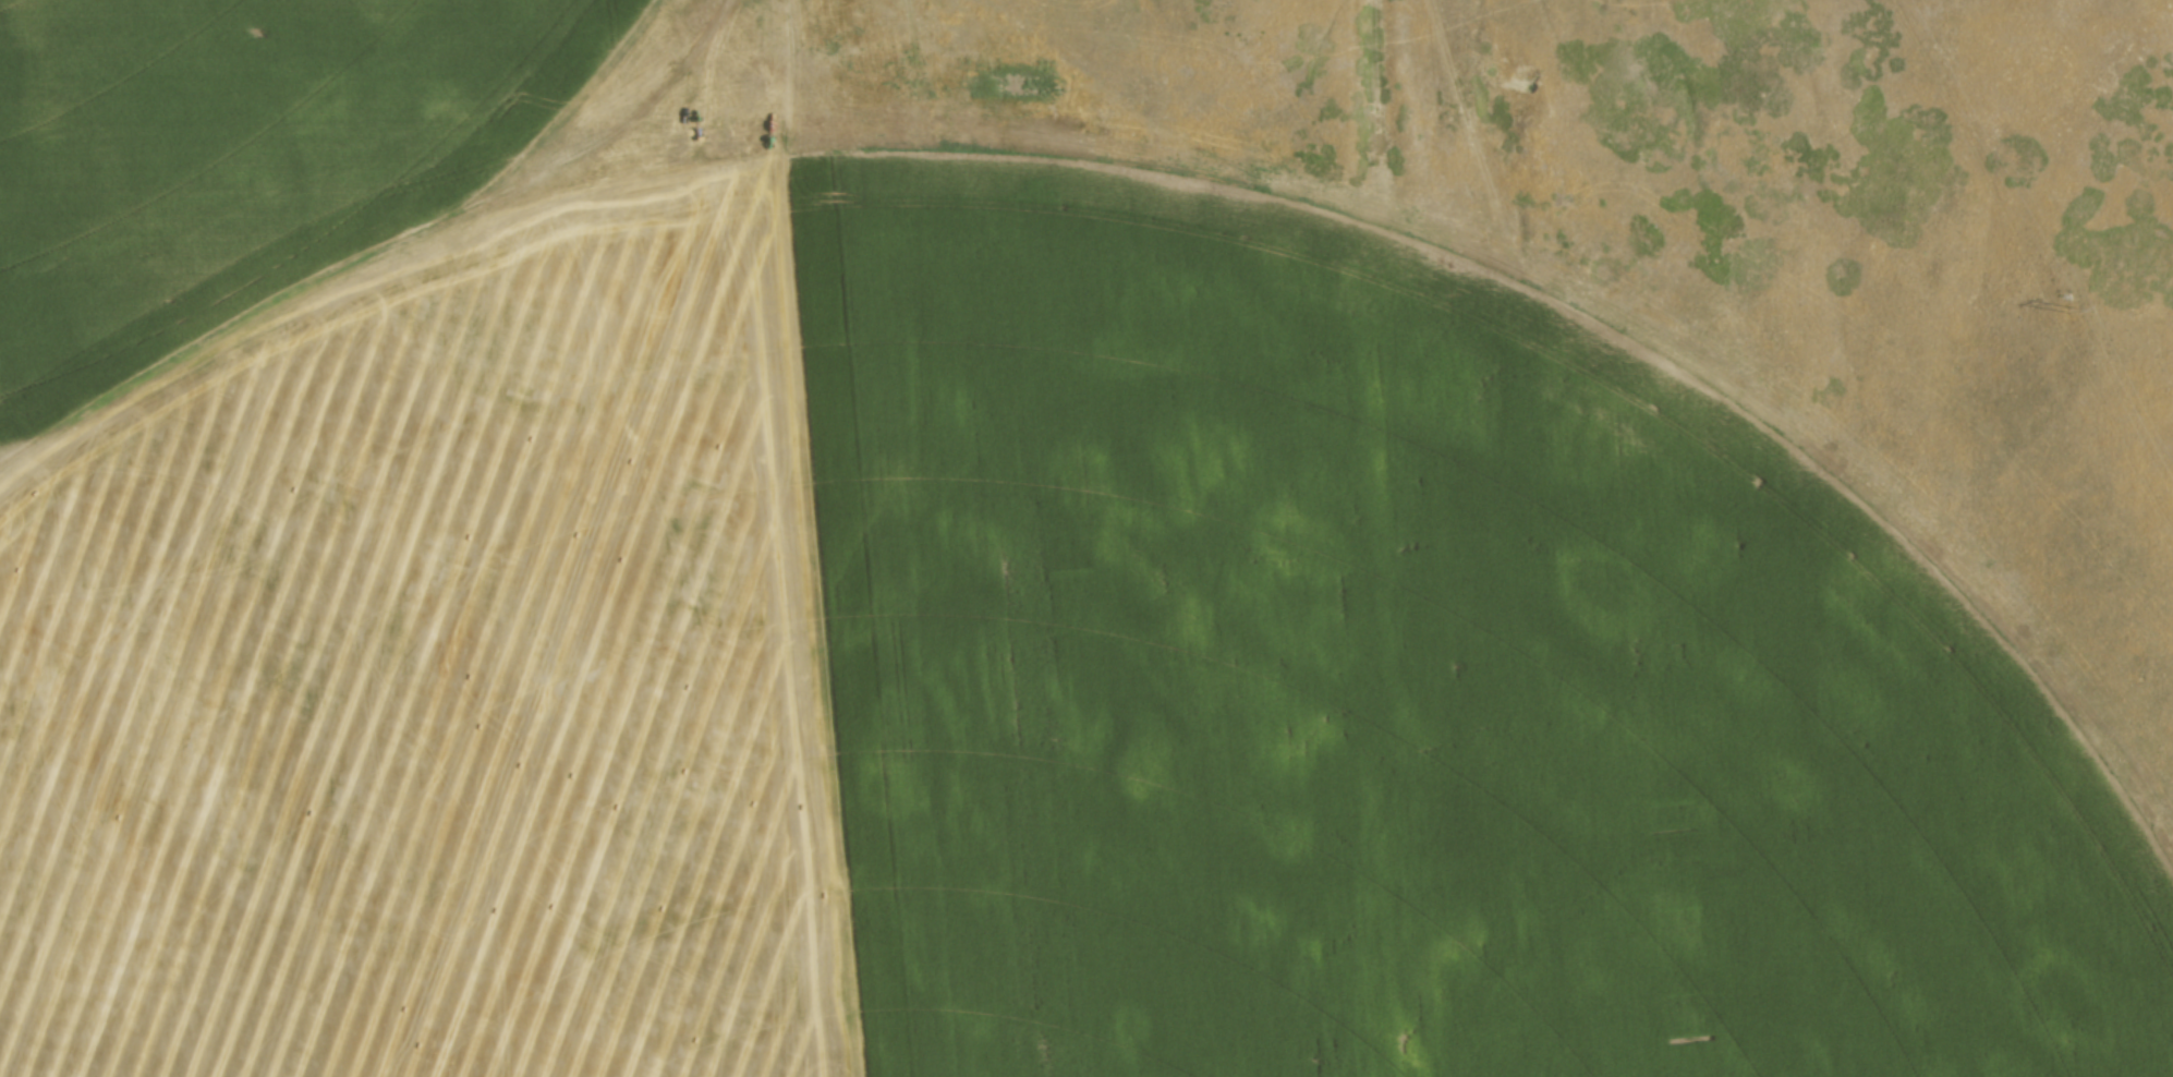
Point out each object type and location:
power tower: (2069, 308)
crop: (925, 631)

